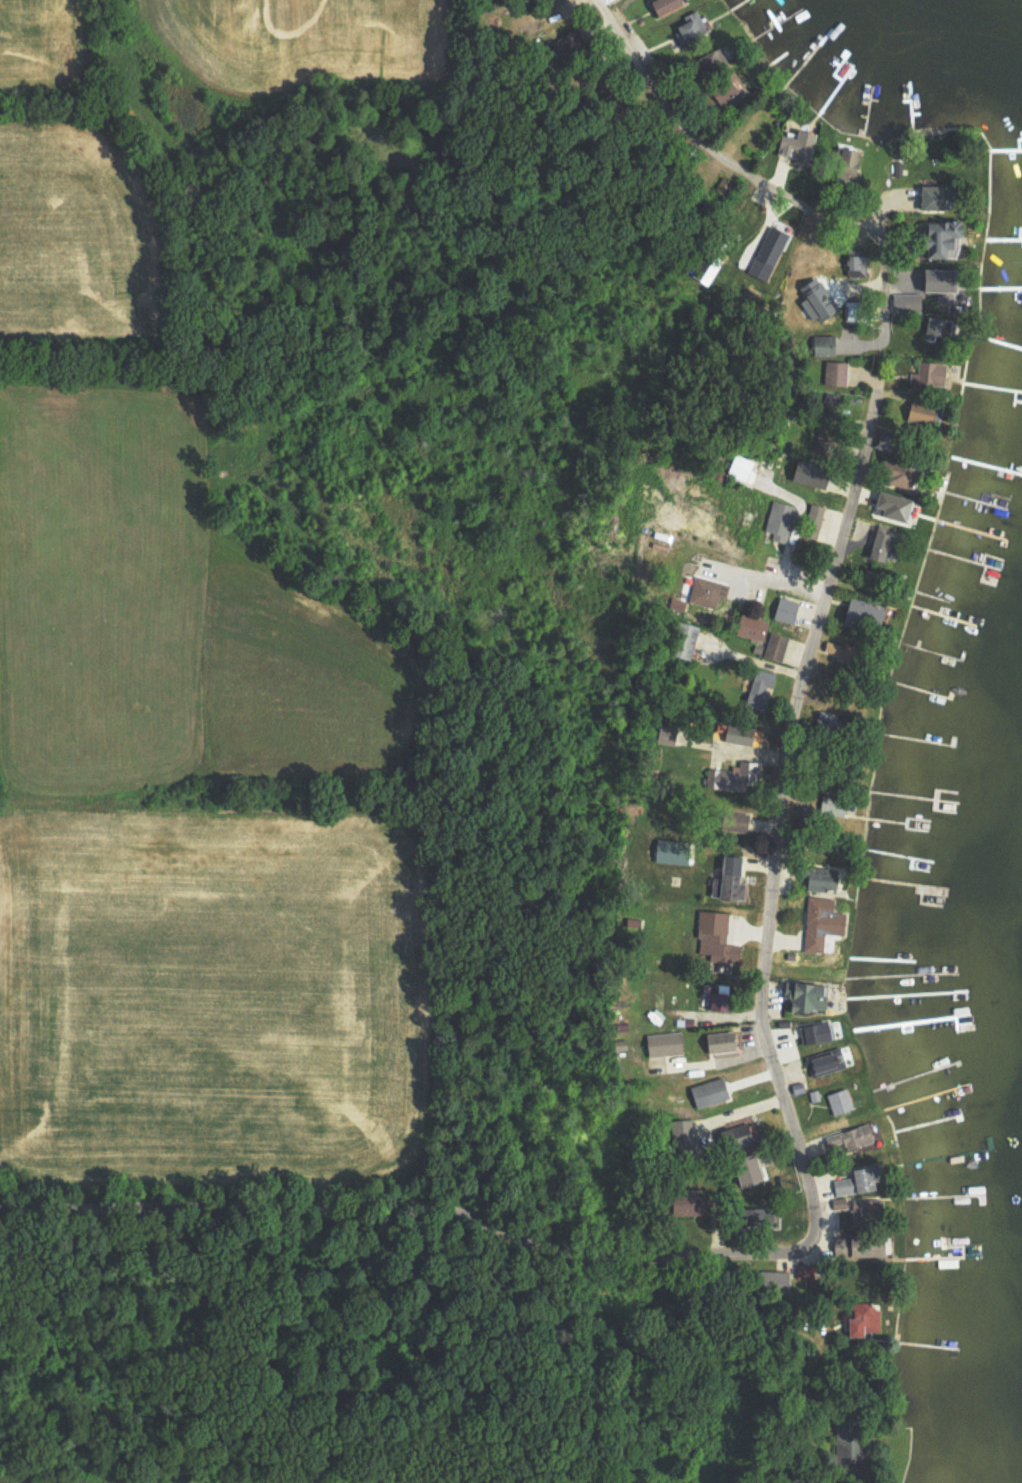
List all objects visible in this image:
building: (673, 5)
building: (692, 28)
building: (805, 148)
road: (766, 185)
building: (929, 196)
building: (936, 235)
building: (854, 264)
building: (936, 280)
building: (811, 298)
building: (905, 302)
building: (859, 312)
building: (932, 323)
building: (823, 345)
building: (835, 372)
building: (928, 373)
building: (916, 410)
building: (807, 472)
building: (895, 472)
building: (889, 503)
building: (778, 519)
building: (812, 520)
building: (878, 544)
building: (707, 590)
building: (784, 609)
building: (858, 609)
building: (752, 629)
building: (683, 639)
building: (775, 645)
building: (757, 686)
building: (736, 733)
building: (664, 736)
building: (732, 775)
building: (839, 806)
building: (735, 820)
building: (670, 850)
building: (816, 876)
building: (726, 878)
building: (819, 922)
building: (713, 936)
building: (805, 995)
building: (714, 999)
building: (815, 1030)
building: (718, 1041)
building: (662, 1043)
building: (823, 1062)
building: (707, 1091)
building: (838, 1099)
building: (682, 1132)
building: (855, 1135)
building: (744, 1168)
building: (854, 1180)
building: (839, 1202)
building: (686, 1204)
building: (858, 1206)
road: (815, 1210)
building: (774, 1280)
building: (861, 1318)

